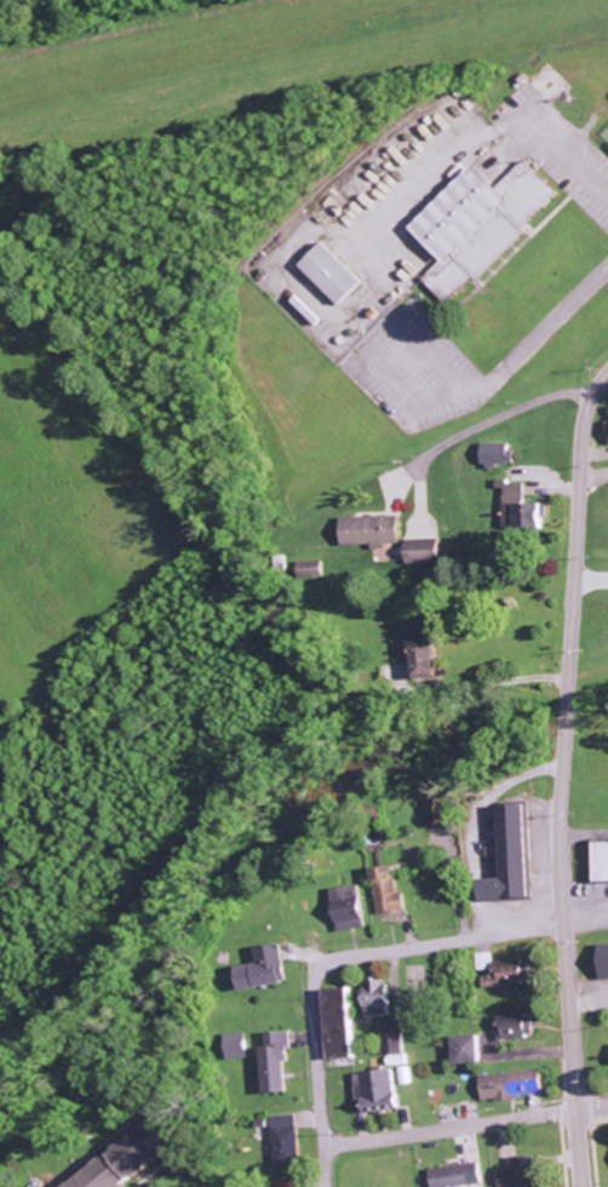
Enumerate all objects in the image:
building: (482, 224)
building: (334, 273)
building: (607, 423)
building: (498, 453)
building: (529, 515)
building: (373, 531)
building: (425, 551)
building: (426, 655)
road: (561, 775)
building: (509, 854)
building: (602, 861)
building: (390, 891)
building: (351, 907)
road: (443, 941)
building: (606, 959)
building: (486, 961)
building: (266, 969)
building: (510, 975)
building: (379, 998)
building: (343, 1023)
building: (517, 1026)
building: (394, 1037)
building: (236, 1045)
building: (470, 1049)
building: (277, 1061)
road: (319, 1072)
building: (511, 1083)
building: (379, 1090)
road: (465, 1126)
building: (287, 1140)
building: (132, 1158)
building: (518, 1172)
building: (458, 1175)
building: (291, 1183)

